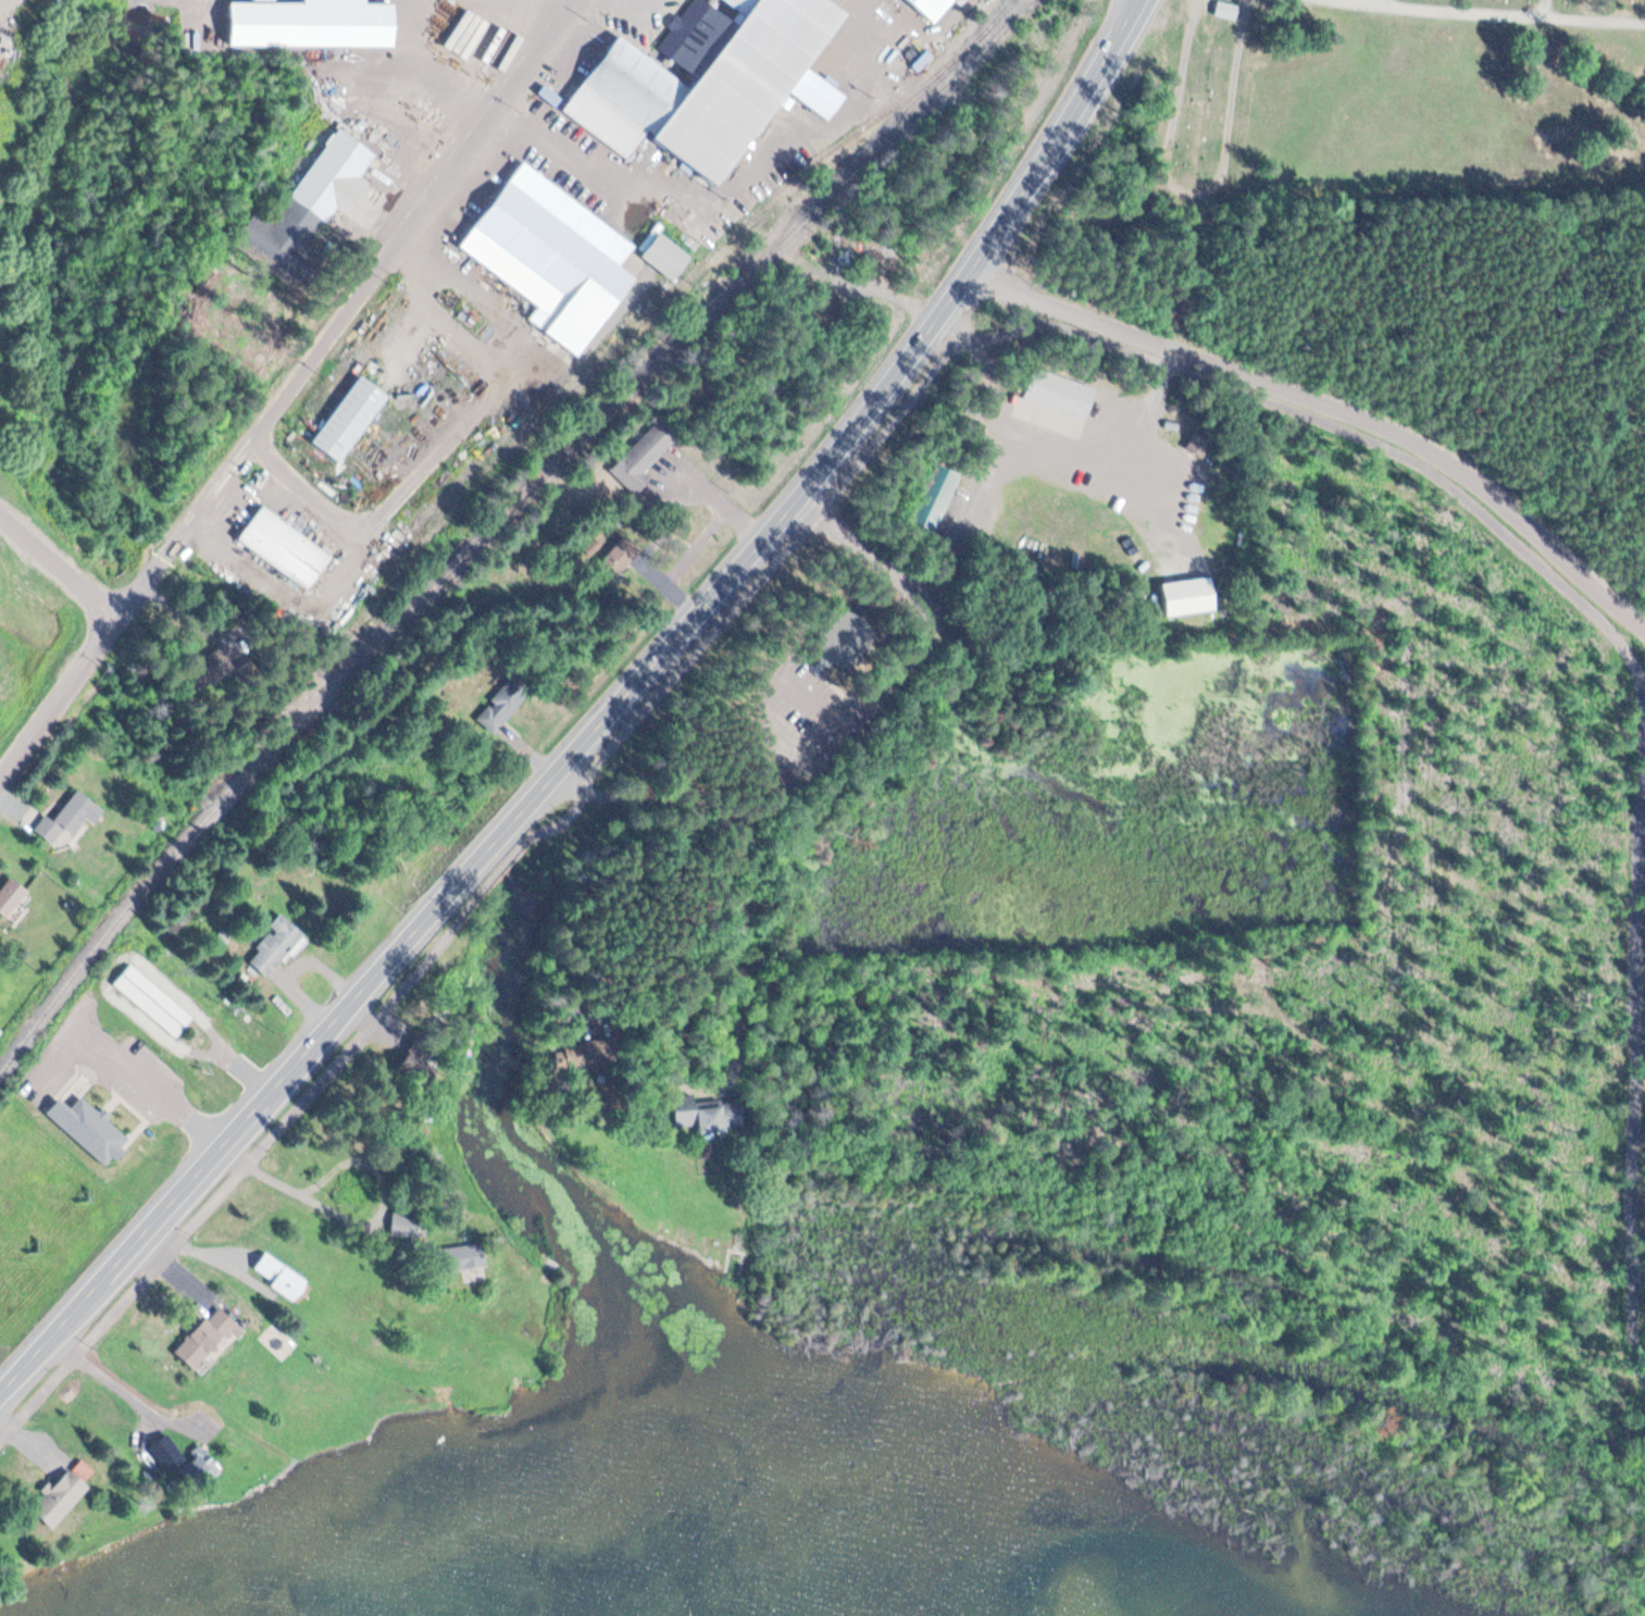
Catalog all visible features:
road: (1382, 3)
road: (7, 4)
building: (933, 5)
road: (1546, 9)
park: (1488, 12)
road: (1491, 14)
building: (314, 24)
building: (713, 83)
building: (340, 182)
building: (552, 249)
building: (666, 257)
railway: (600, 356)
road: (294, 387)
road: (1332, 406)
building: (351, 419)
building: (639, 461)
building: (938, 494)
railway: (496, 526)
building: (285, 548)
building: (615, 560)
road: (59, 567)
building: (1188, 597)
building: (501, 706)
road: (599, 720)
building: (67, 819)
building: (12, 898)
building: (276, 948)
building: (154, 1000)
road: (1034, 1066)
building: (701, 1117)
building: (90, 1128)
building: (407, 1226)
road: (1156, 1256)
building: (282, 1278)
building: (207, 1339)
building: (203, 1463)
building: (62, 1500)

